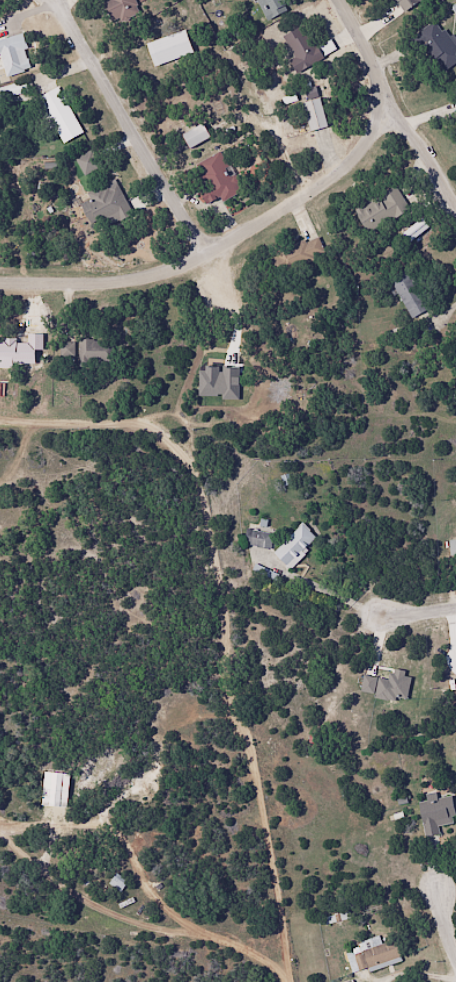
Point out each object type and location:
building: (404, 4)
building: (269, 8)
building: (122, 9)
building: (439, 44)
building: (301, 49)
building: (12, 89)
building: (55, 107)
building: (314, 115)
road: (134, 126)
building: (194, 136)
road: (424, 144)
building: (87, 162)
building: (216, 179)
building: (104, 204)
building: (381, 210)
road: (269, 221)
building: (414, 227)
building: (297, 255)
building: (408, 293)
building: (66, 349)
building: (94, 352)
building: (257, 538)
building: (294, 545)
building: (452, 546)
road: (412, 607)
building: (386, 686)
building: (435, 813)
building: (116, 882)
road: (449, 918)
road: (137, 923)
building: (375, 954)

